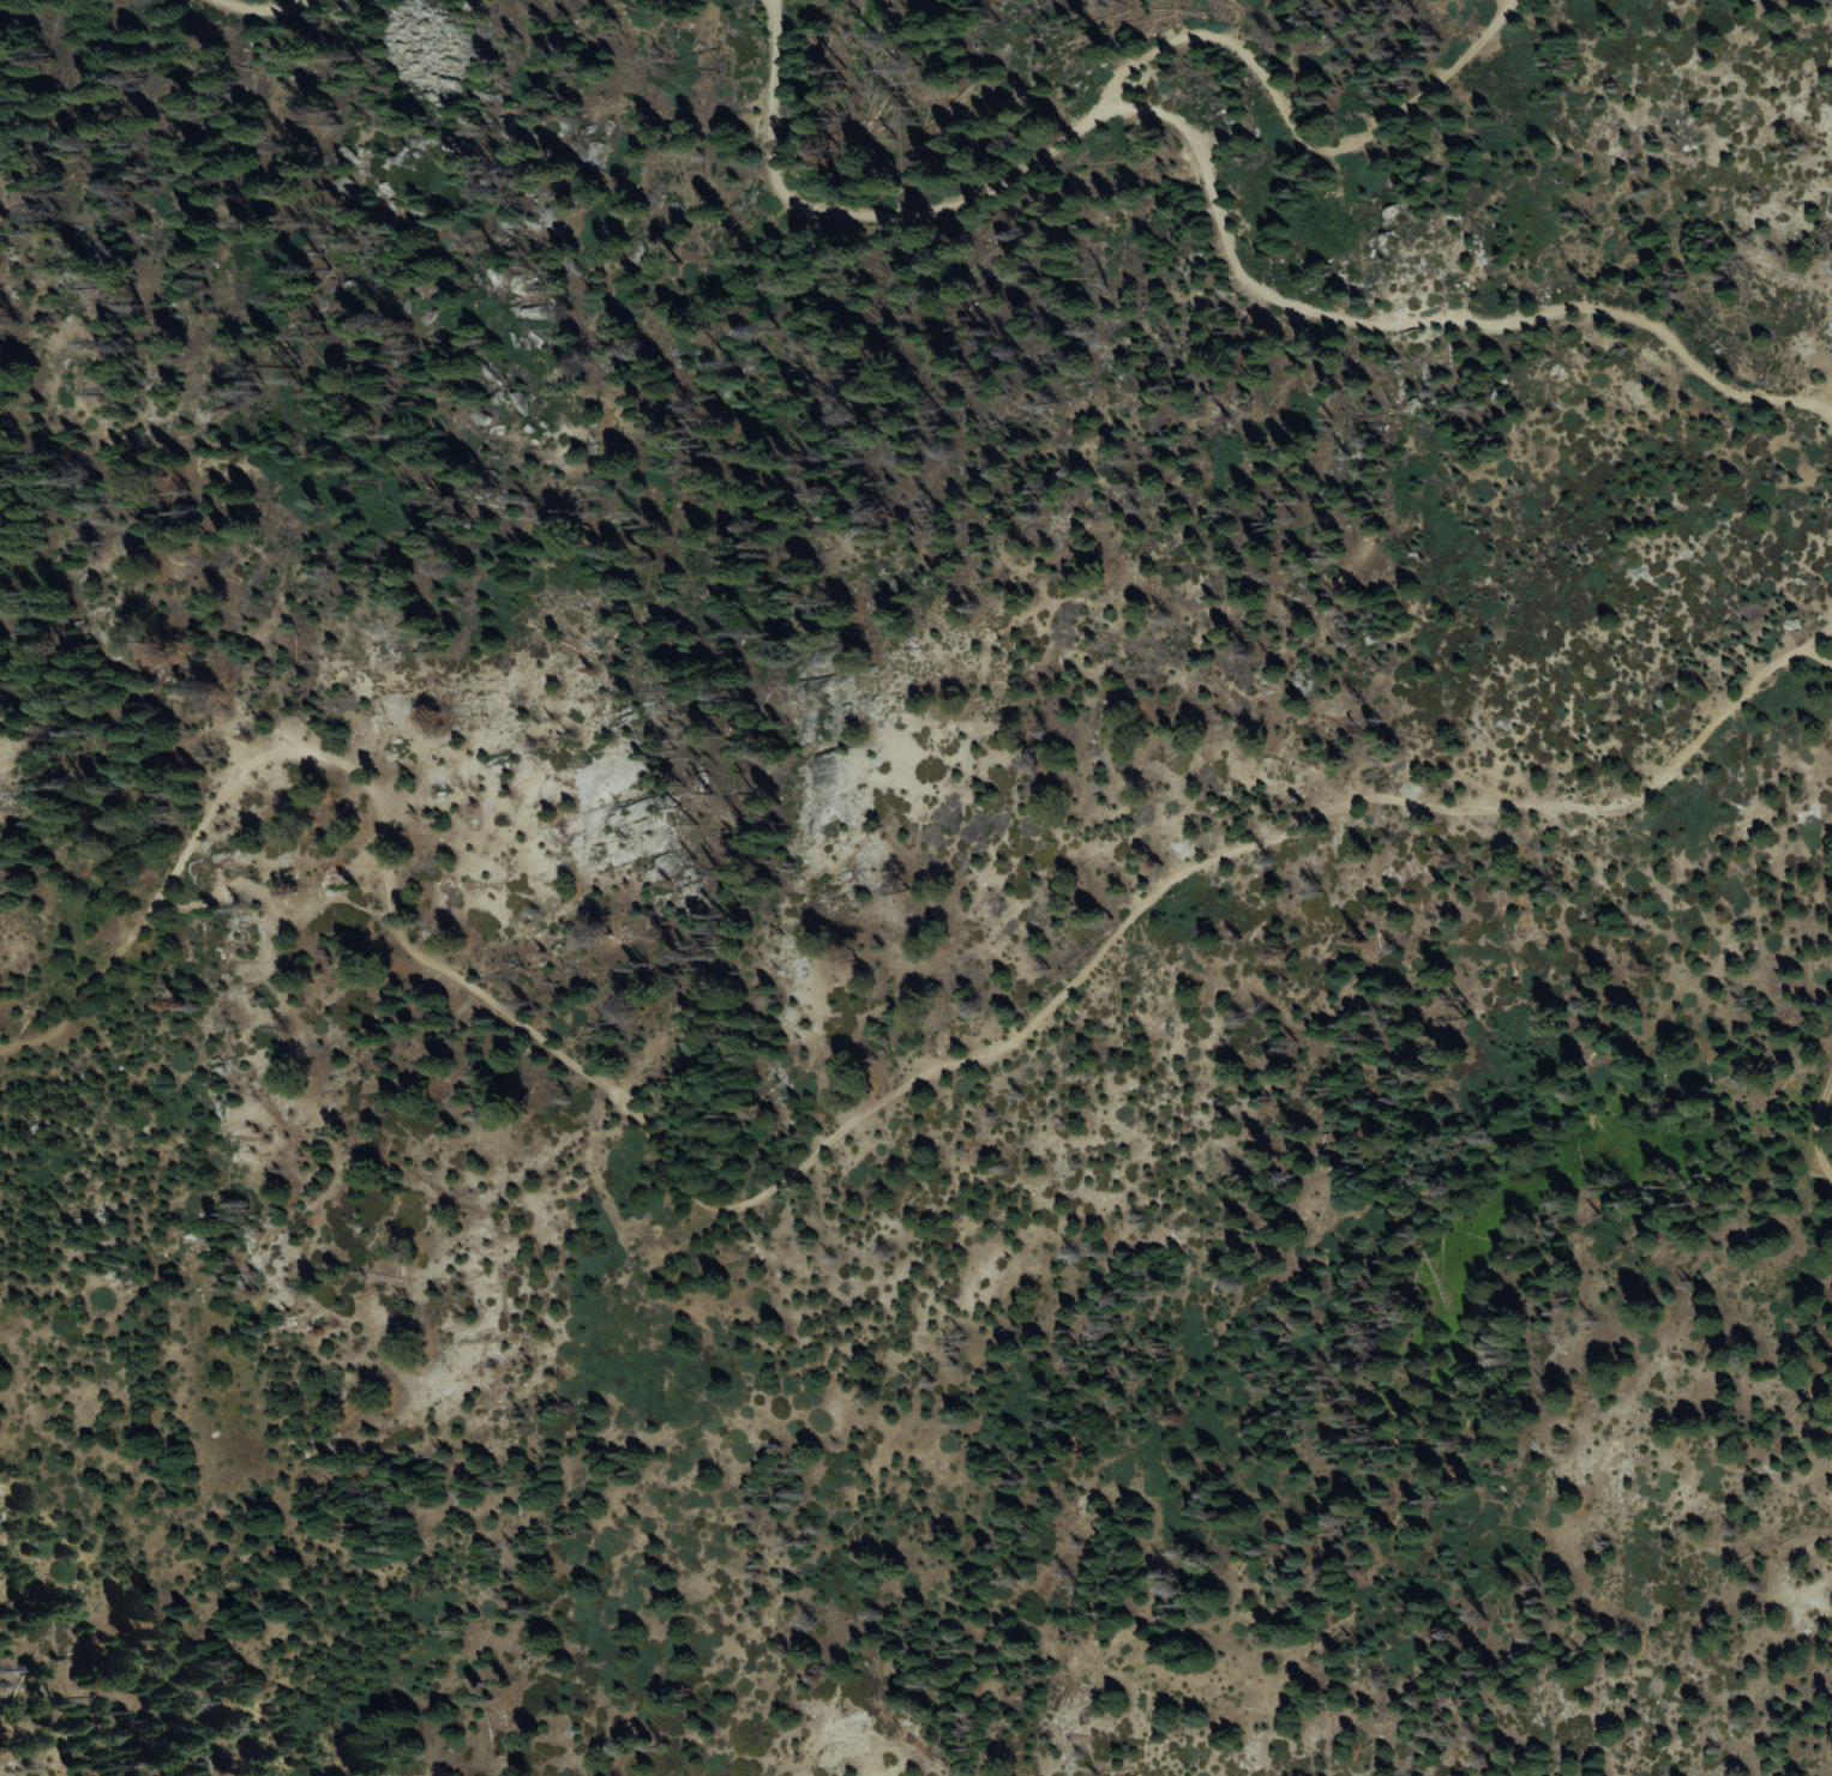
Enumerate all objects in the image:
road: (253, 12)
road: (1344, 153)
road: (1208, 204)
road: (1814, 656)
road: (1813, 1125)
road: (811, 1152)

